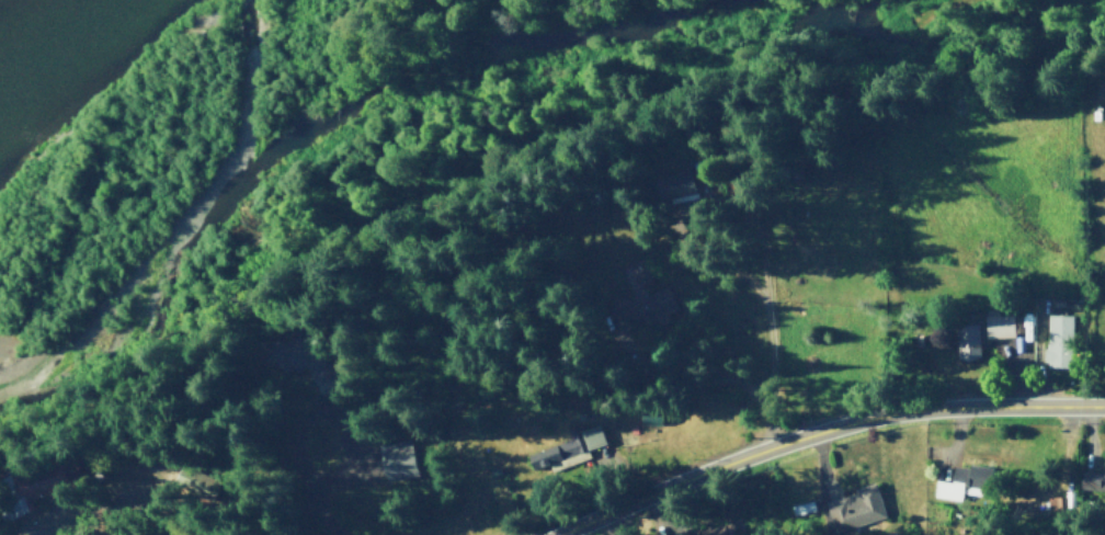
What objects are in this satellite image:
river: (52, 52)
building: (683, 183)
building: (643, 269)
building: (658, 305)
building: (999, 323)
building: (1059, 339)
building: (968, 340)
building: (308, 351)
road: (823, 430)
building: (569, 444)
building: (401, 458)
building: (58, 479)
building: (1093, 479)
building: (964, 480)
building: (855, 506)

